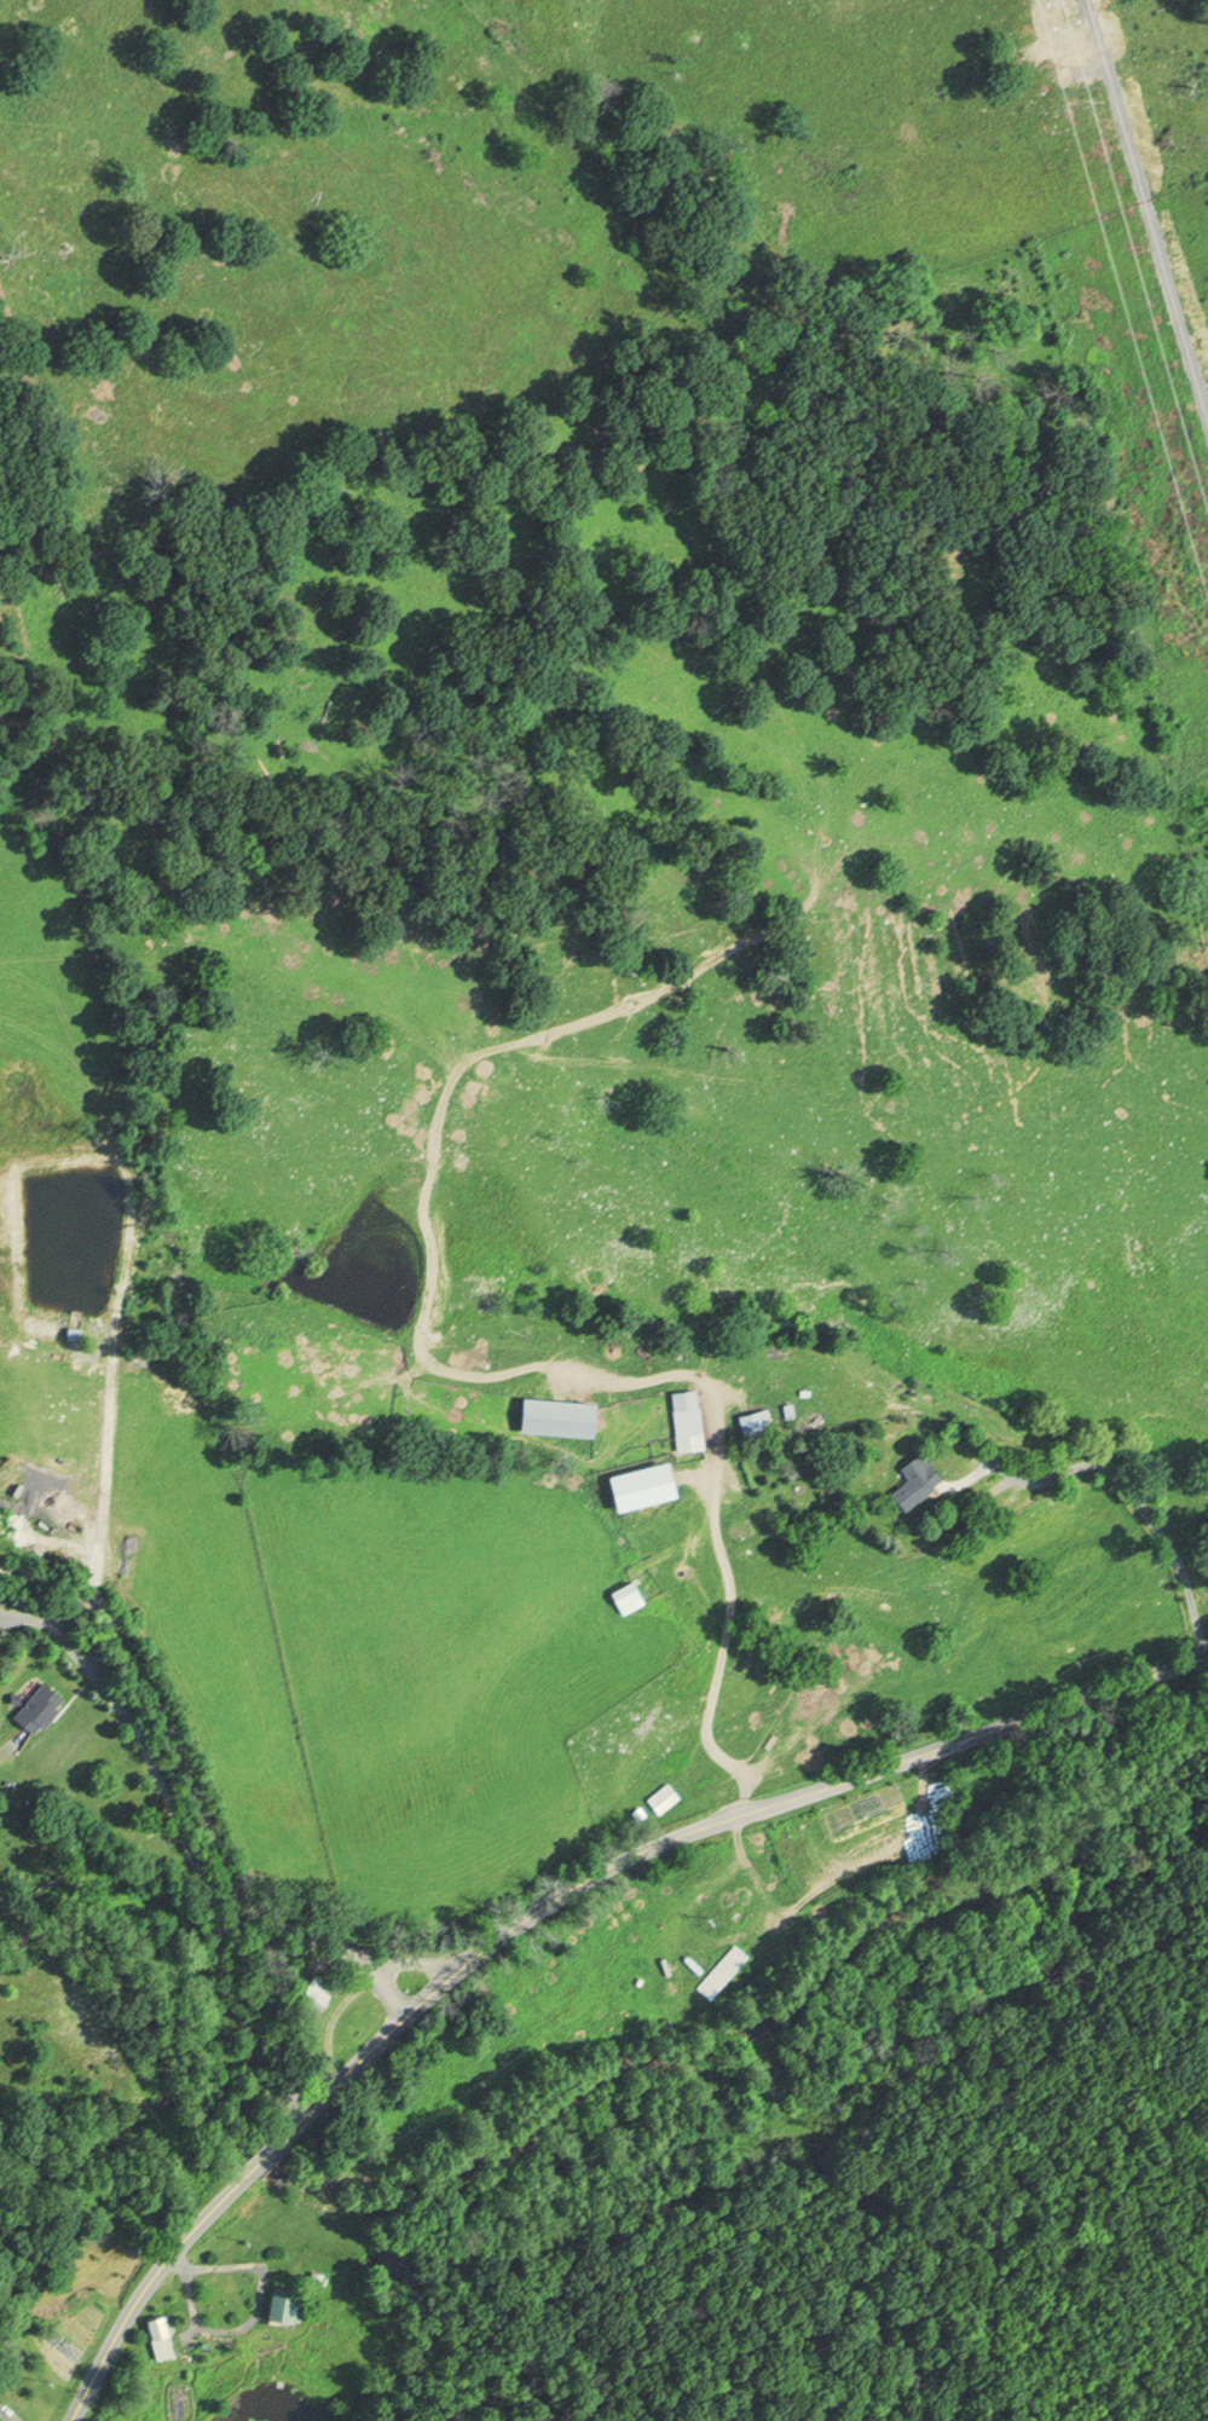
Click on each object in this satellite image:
road: (443, 1370)
building: (549, 1415)
building: (682, 1420)
building: (749, 1421)
building: (911, 1481)
road: (1146, 1498)
building: (620, 1597)
road: (27, 1623)
building: (34, 1708)
building: (660, 1799)
road: (201, 1808)
road: (189, 1843)
road: (543, 1900)
building: (719, 1971)
building: (310, 1993)
road: (395, 1993)
road: (334, 2012)
building: (272, 2306)
building: (164, 2336)
building: (1, 2399)

